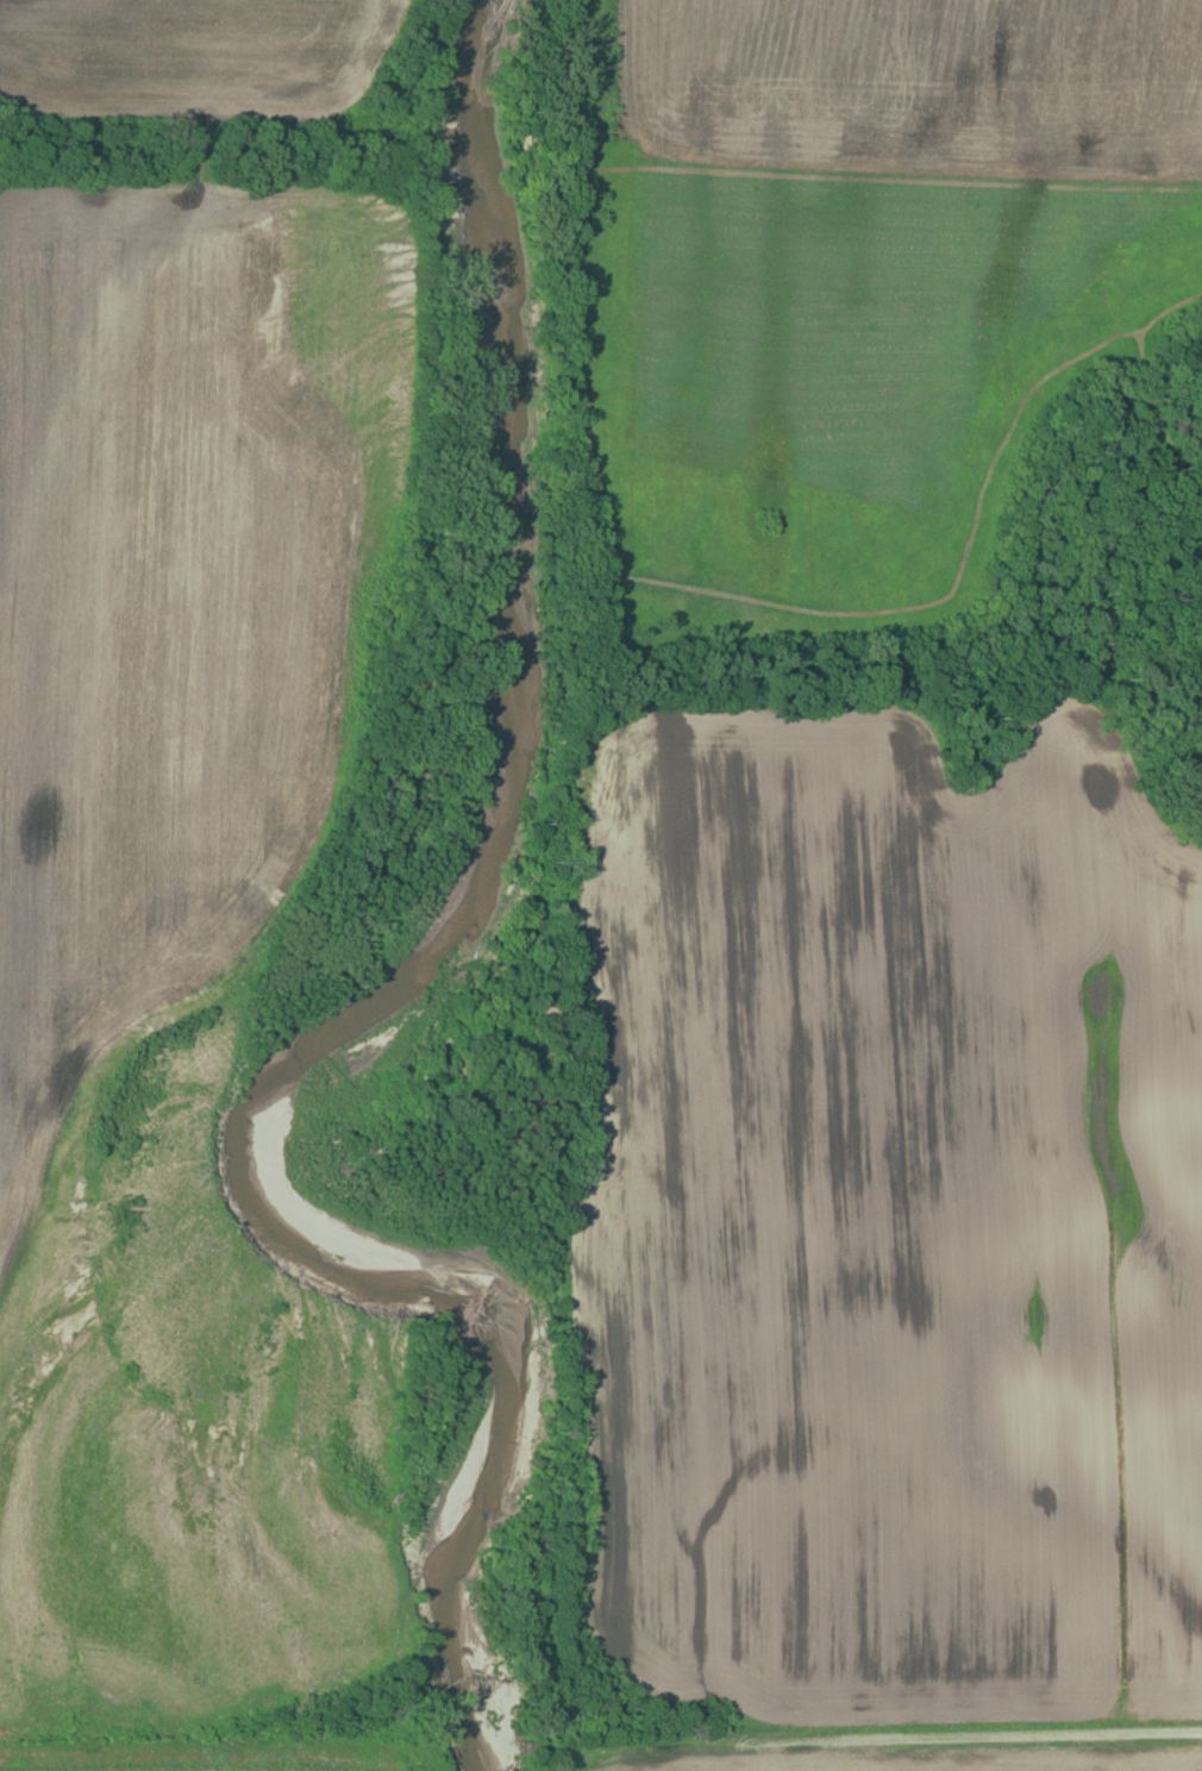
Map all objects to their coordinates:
road: (878, 1736)
road: (505, 1746)
road: (226, 1751)

